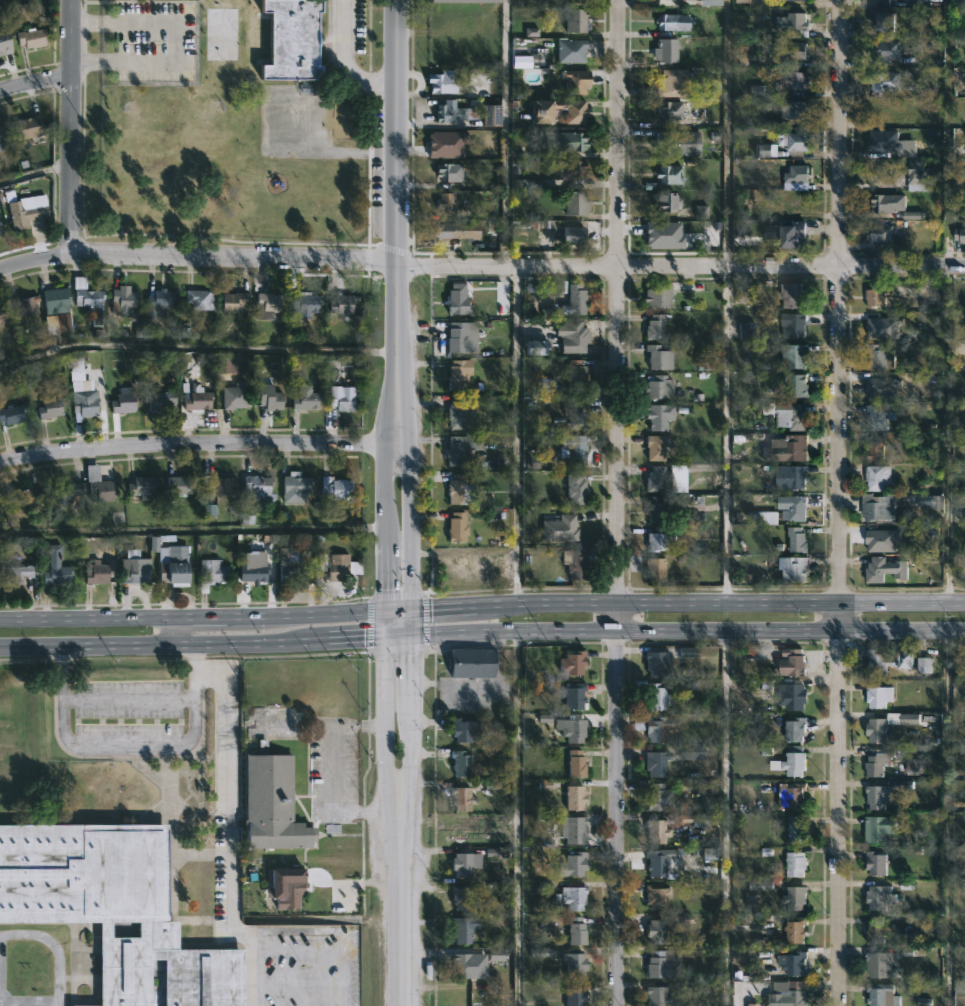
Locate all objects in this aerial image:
building: (676, 0)
building: (465, 1)
building: (795, 1)
building: (575, 2)
building: (742, 2)
building: (710, 3)
building: (576, 20)
building: (886, 21)
building: (675, 22)
building: (793, 22)
building: (31, 38)
building: (292, 39)
building: (3, 41)
road: (175, 42)
building: (886, 49)
building: (571, 50)
building: (666, 50)
building: (790, 51)
road: (345, 59)
building: (575, 80)
building: (793, 81)
building: (886, 81)
building: (672, 83)
road: (34, 85)
building: (442, 89)
building: (170, 90)
building: (666, 110)
building: (795, 110)
building: (455, 113)
building: (577, 113)
building: (490, 115)
building: (28, 126)
road: (70, 127)
building: (2, 134)
road: (504, 134)
building: (568, 141)
building: (886, 141)
building: (679, 142)
building: (796, 142)
building: (0, 148)
road: (34, 170)
building: (572, 170)
building: (447, 171)
building: (295, 172)
building: (921, 173)
building: (670, 174)
building: (798, 175)
building: (249, 179)
road: (396, 184)
building: (668, 202)
building: (575, 203)
building: (889, 203)
building: (445, 204)
building: (25, 212)
building: (1, 229)
building: (457, 230)
building: (0, 233)
building: (882, 233)
building: (571, 235)
building: (793, 235)
building: (961, 235)
road: (233, 257)
road: (34, 260)
road: (680, 267)
building: (878, 294)
building: (658, 296)
building: (794, 296)
building: (198, 299)
building: (457, 299)
building: (575, 299)
building: (122, 300)
building: (58, 301)
building: (158, 302)
building: (233, 302)
building: (91, 303)
building: (268, 304)
building: (24, 305)
building: (305, 305)
building: (342, 305)
building: (2, 316)
building: (794, 325)
building: (655, 327)
building: (746, 332)
building: (572, 336)
building: (461, 337)
road: (196, 346)
building: (794, 356)
building: (879, 357)
building: (658, 358)
building: (227, 364)
building: (458, 374)
building: (576, 375)
building: (797, 387)
building: (659, 388)
building: (236, 396)
building: (85, 398)
building: (267, 398)
building: (305, 398)
building: (159, 399)
building: (342, 399)
building: (123, 401)
building: (196, 402)
building: (49, 408)
building: (578, 412)
building: (458, 413)
building: (12, 414)
building: (659, 416)
building: (789, 416)
building: (881, 418)
road: (726, 435)
road: (515, 437)
road: (407, 441)
road: (192, 446)
building: (879, 447)
building: (655, 448)
building: (460, 449)
building: (786, 449)
building: (576, 451)
building: (880, 476)
building: (791, 478)
building: (656, 479)
building: (180, 485)
building: (222, 485)
building: (142, 486)
building: (257, 486)
building: (294, 487)
building: (335, 488)
building: (575, 488)
building: (100, 490)
building: (460, 491)
building: (67, 494)
building: (24, 498)
road: (621, 502)
road: (386, 503)
road: (840, 503)
building: (894, 504)
building: (655, 509)
building: (796, 510)
building: (457, 527)
building: (559, 529)
building: (658, 539)
building: (798, 540)
building: (503, 559)
building: (294, 560)
road: (409, 563)
building: (574, 564)
building: (173, 566)
building: (55, 567)
building: (135, 567)
building: (252, 567)
building: (339, 567)
building: (461, 567)
building: (655, 569)
building: (887, 569)
building: (795, 570)
building: (212, 573)
building: (15, 574)
building: (97, 574)
road: (686, 604)
road: (397, 611)
traffic signals: (409, 611)
traffic signals: (386, 612)
road: (315, 614)
road: (208, 617)
road: (86, 618)
road: (408, 625)
road: (686, 629)
road: (172, 631)
road: (396, 639)
traffic signals: (408, 639)
road: (352, 640)
traffic signals: (385, 640)
road: (159, 644)
building: (573, 661)
building: (794, 661)
building: (891, 661)
building: (656, 662)
road: (201, 663)
building: (473, 664)
building: (925, 666)
road: (408, 673)
road: (478, 684)
road: (121, 691)
building: (656, 694)
building: (576, 695)
building: (882, 695)
building: (794, 696)
building: (797, 728)
building: (572, 729)
building: (662, 729)
building: (467, 730)
building: (877, 731)
road: (387, 737)
road: (407, 750)
building: (793, 761)
building: (461, 762)
building: (576, 762)
building: (879, 762)
building: (658, 765)
building: (792, 795)
building: (658, 796)
building: (462, 797)
building: (575, 797)
building: (879, 797)
building: (273, 803)
road: (404, 813)
road: (946, 816)
road: (726, 817)
road: (515, 820)
building: (701, 820)
road: (229, 823)
building: (573, 829)
building: (880, 829)
building: (460, 831)
building: (659, 831)
building: (797, 831)
building: (501, 858)
building: (874, 861)
building: (573, 863)
building: (658, 863)
building: (796, 863)
building: (461, 864)
building: (290, 893)
building: (656, 896)
building: (880, 896)
building: (461, 897)
building: (575, 897)
building: (796, 897)
building: (113, 907)
road: (403, 919)
building: (796, 928)
building: (656, 930)
building: (879, 930)
building: (461, 931)
building: (578, 931)
road: (326, 947)
building: (493, 951)
building: (793, 962)
building: (462, 964)
building: (575, 964)
building: (882, 965)
building: (661, 966)
road: (252, 975)
building: (792, 993)
building: (884, 994)
building: (576, 995)
building: (657, 996)

